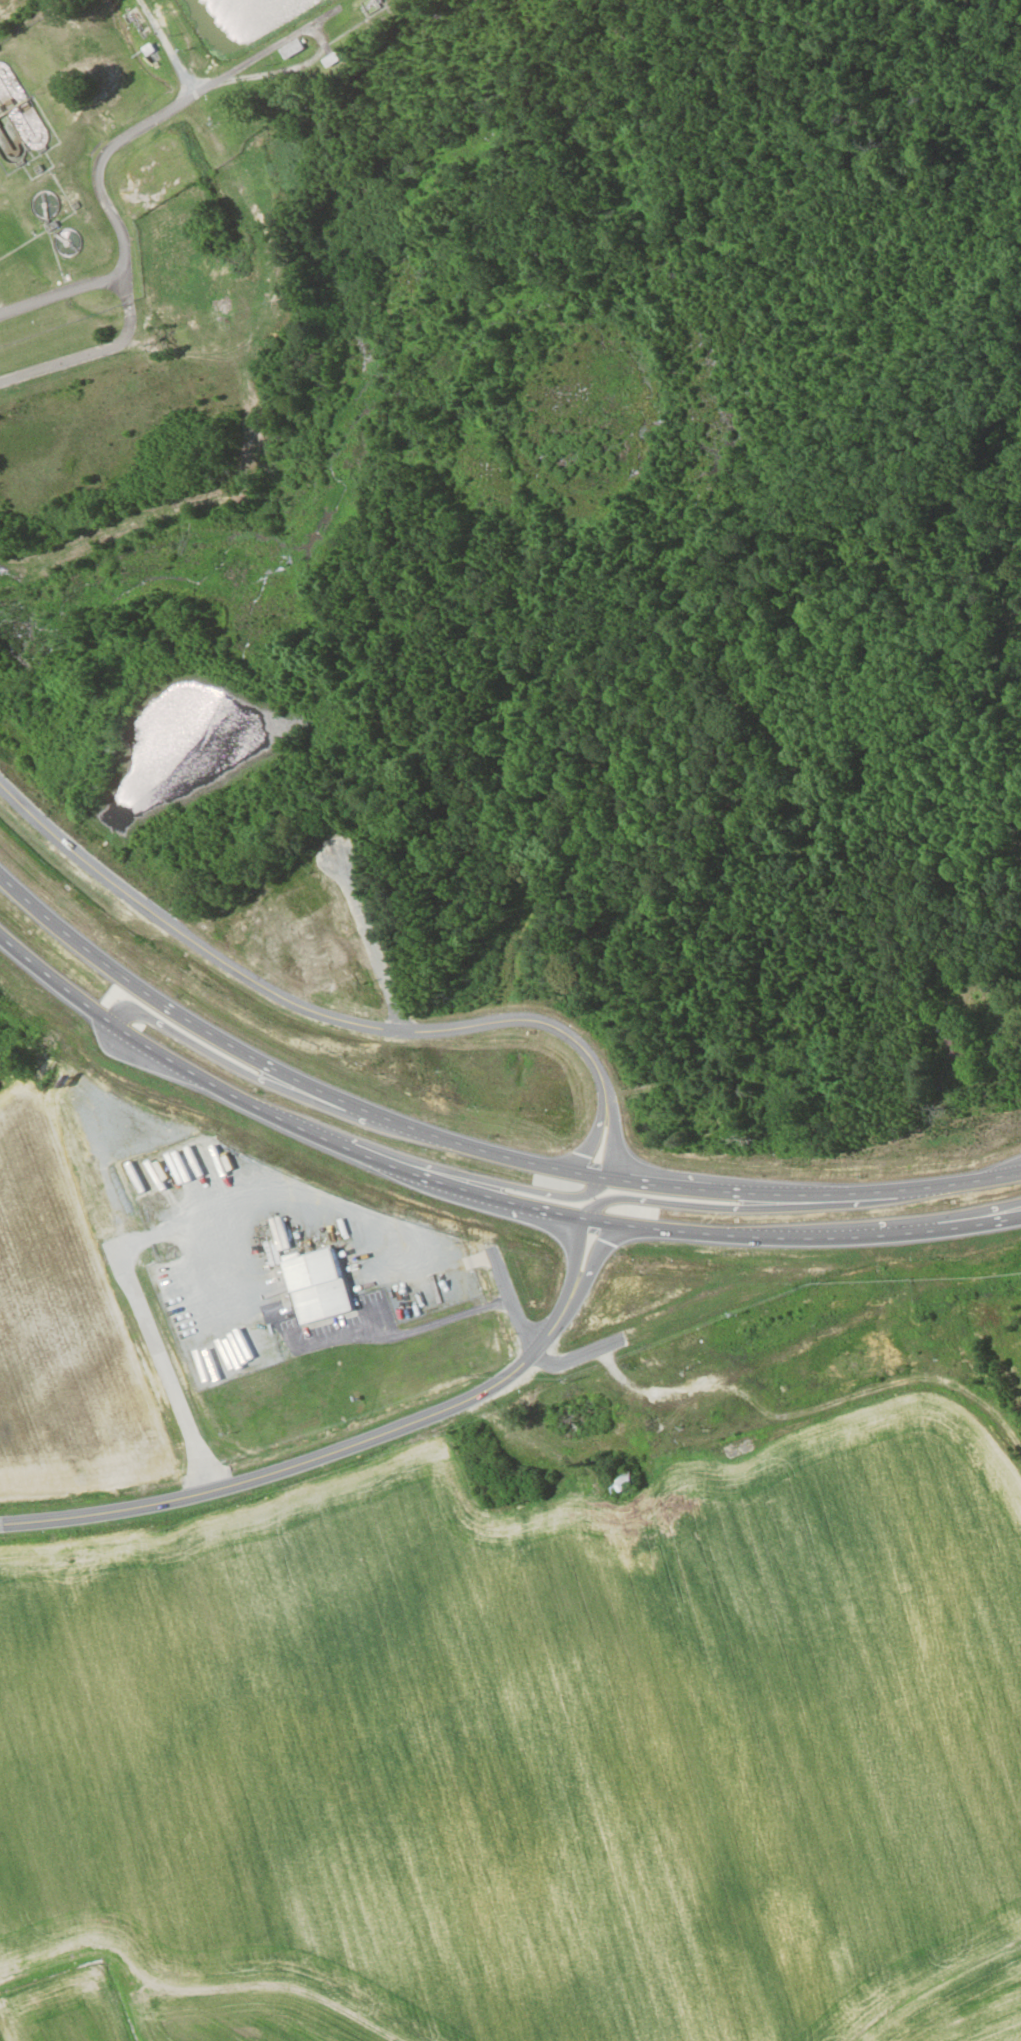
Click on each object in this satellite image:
building: (374, 5)
wastewater plant: (252, 16)
building: (297, 46)
building: (333, 59)
road: (369, 940)
road: (327, 1015)
building: (961, 1048)
road: (277, 1069)
road: (244, 1071)
building: (971, 1099)
building: (707, 1121)
road: (463, 1173)
road: (478, 1192)
road: (811, 1193)
road: (744, 1208)
road: (966, 1212)
building: (322, 1286)
road: (513, 1301)
building: (578, 1417)
road: (348, 1445)
building: (625, 1481)

